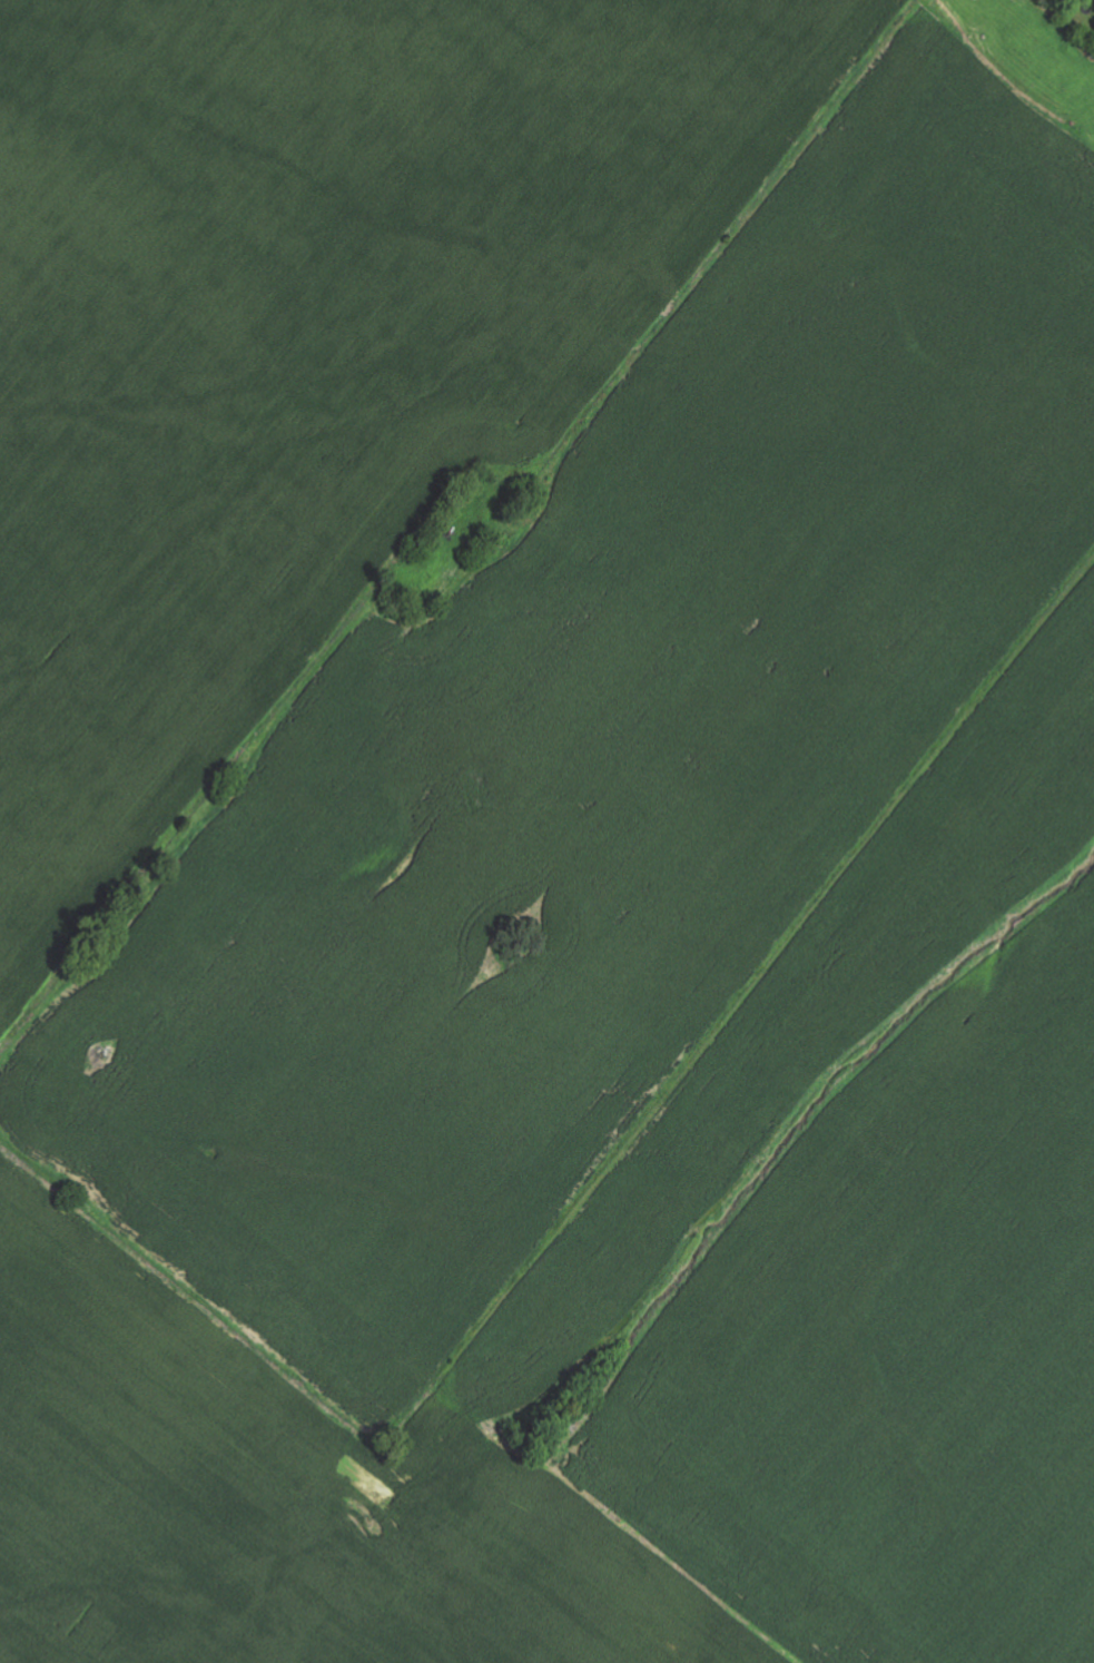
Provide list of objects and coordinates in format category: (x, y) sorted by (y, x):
road: (1029, 184)

